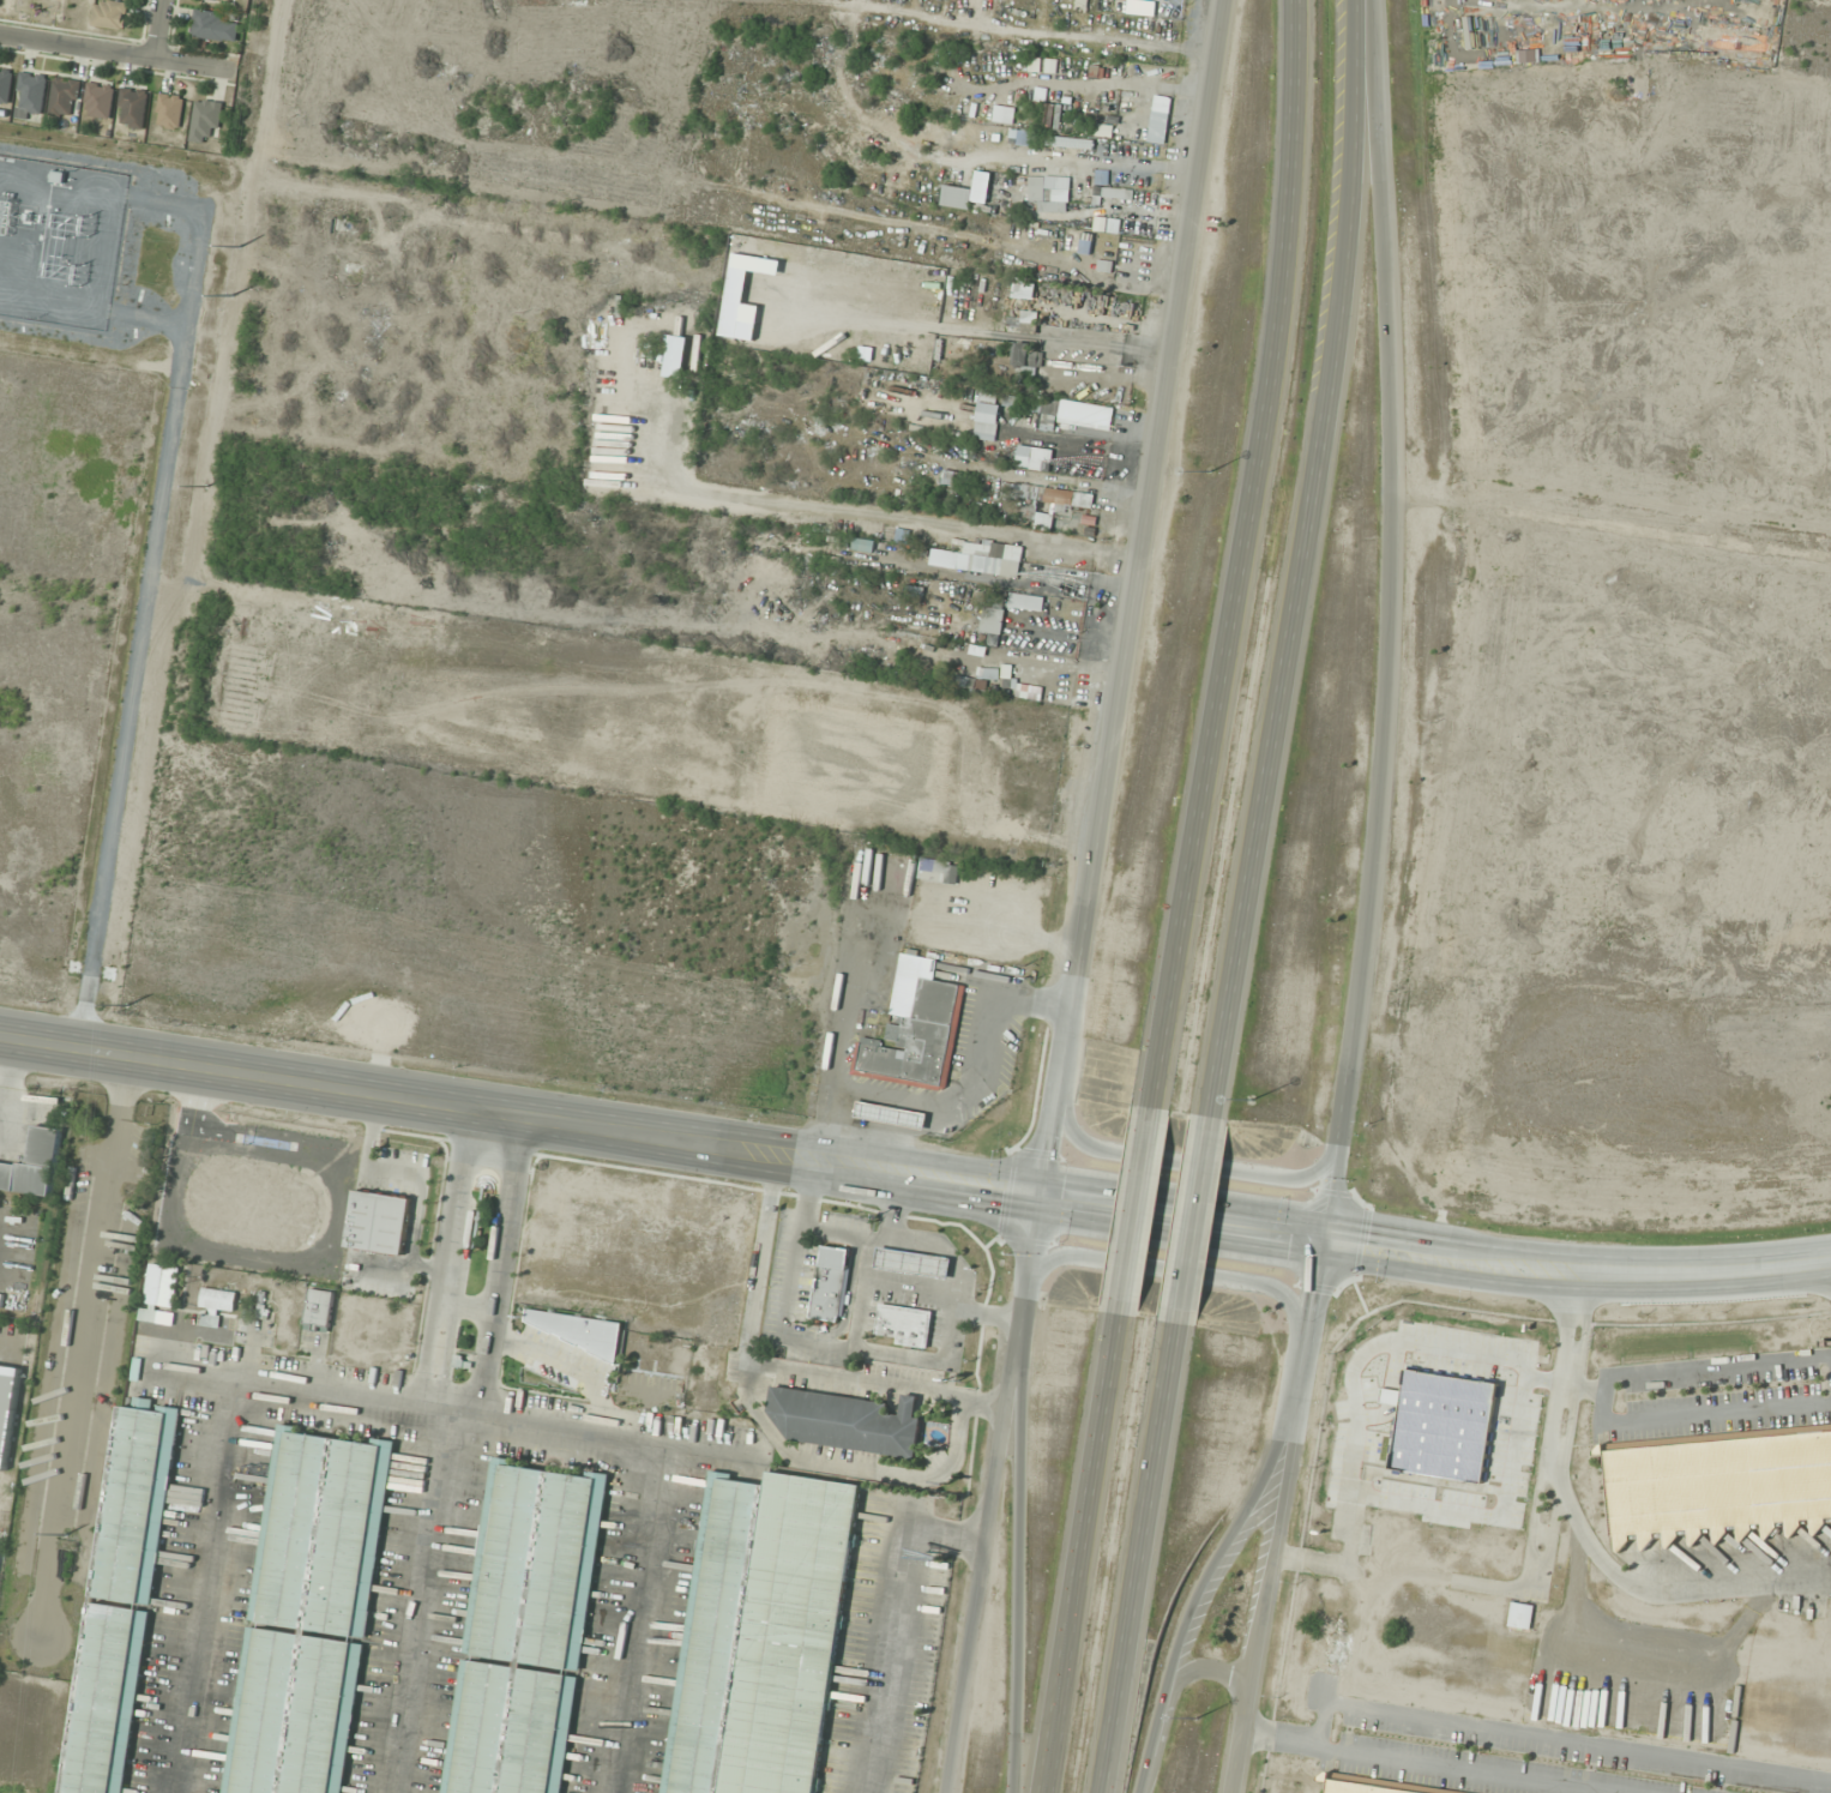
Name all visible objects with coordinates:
building: (227, 0)
building: (1132, 7)
building: (110, 13)
building: (216, 26)
road: (159, 30)
road: (118, 54)
building: (6, 84)
building: (32, 95)
building: (66, 96)
building: (100, 100)
building: (133, 107)
building: (170, 109)
building: (1052, 115)
building: (207, 119)
building: (1104, 130)
building: (1118, 192)
building: (957, 195)
building: (1050, 198)
building: (348, 224)
building: (1024, 347)
building: (986, 431)
building: (953, 477)
building: (1047, 493)
building: (863, 544)
road: (1239, 550)
building: (990, 558)
road: (1309, 558)
building: (993, 614)
building: (832, 686)
building: (899, 697)
building: (998, 778)
building: (903, 786)
building: (853, 799)
road: (1094, 894)
road: (1368, 913)
building: (914, 1029)
road: (320, 1093)
building: (891, 1114)
building: (149, 1149)
building: (34, 1165)
road: (1199, 1165)
traffic signals: (1047, 1198)
road: (1144, 1204)
road: (1207, 1219)
road: (1235, 1221)
building: (378, 1222)
traffic signals: (1332, 1234)
building: (913, 1262)
road: (442, 1263)
road: (494, 1270)
road: (1189, 1272)
building: (831, 1283)
building: (159, 1289)
building: (1, 1300)
road: (463, 1302)
building: (319, 1310)
building: (904, 1324)
building: (646, 1349)
road: (1697, 1362)
building: (7, 1408)
road: (1701, 1412)
road: (442, 1414)
building: (848, 1421)
road: (1558, 1425)
building: (1719, 1485)
road: (1085, 1551)
road: (1155, 1558)
road: (981, 1568)
road: (1263, 1587)
road: (200, 1588)
road: (1660, 1590)
building: (124, 1593)
road: (417, 1604)
building: (308, 1615)
road: (643, 1620)
building: (525, 1632)
building: (761, 1635)
road: (1216, 1672)
road: (1554, 1735)
road: (1425, 1763)
building: (1371, 1786)

